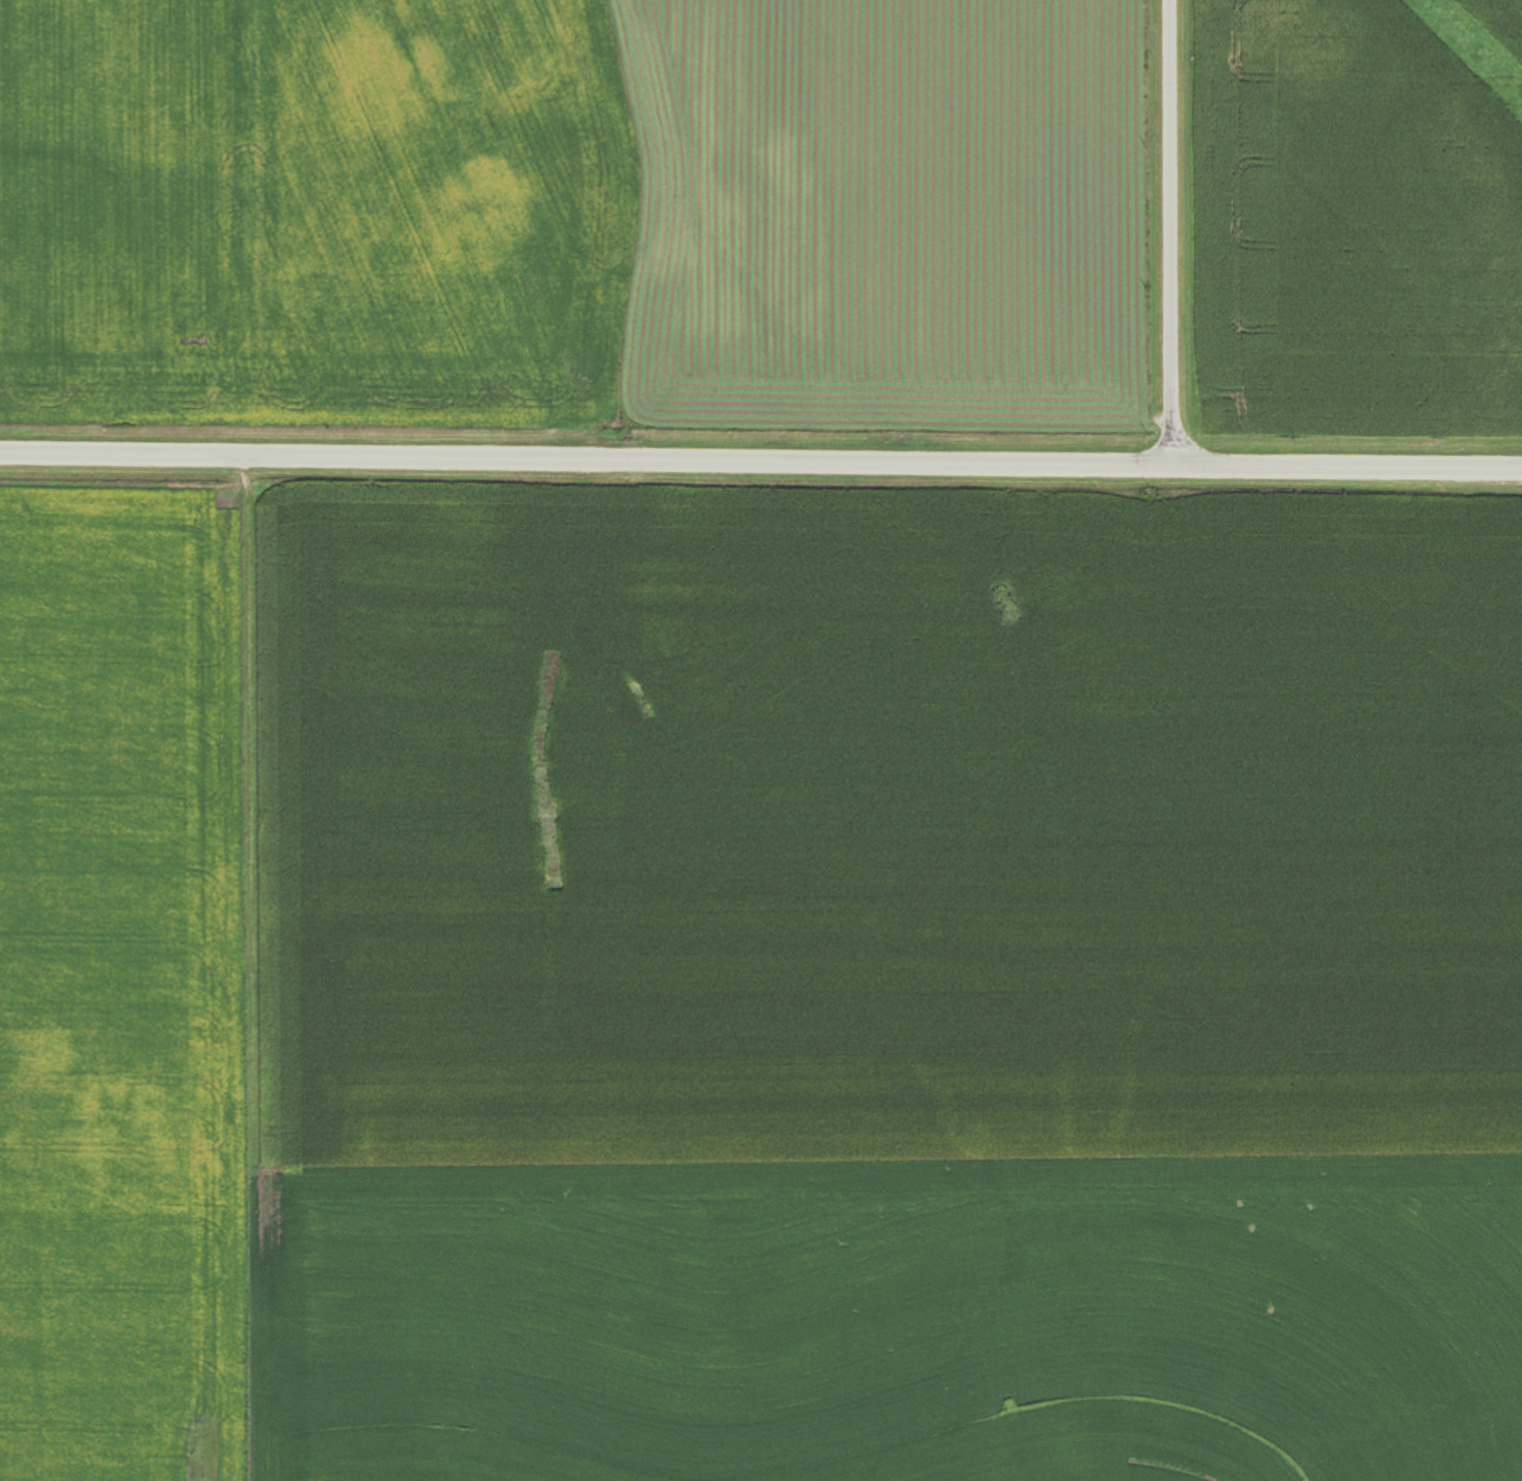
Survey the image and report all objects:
road: (1175, 232)
road: (760, 449)

